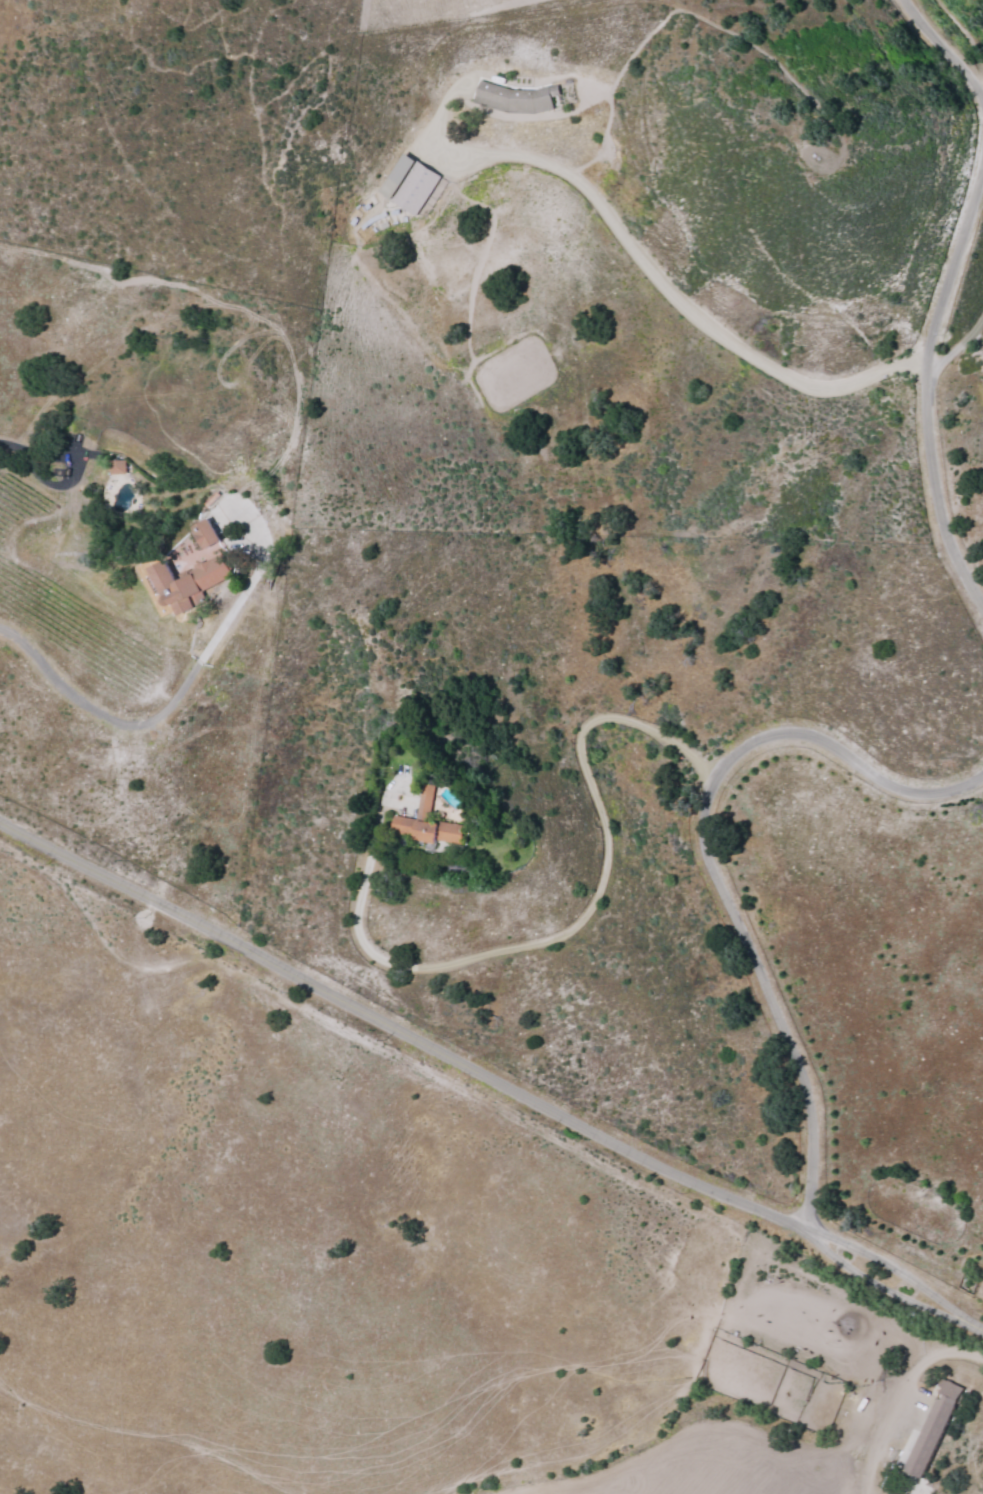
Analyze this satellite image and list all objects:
road: (781, 2)
road: (944, 49)
building: (518, 99)
building: (409, 183)
road: (922, 371)
building: (207, 533)
building: (194, 584)
building: (429, 824)
road: (712, 857)
road: (435, 961)
road: (491, 1076)
road: (911, 1337)
building: (934, 1429)
crop: (707, 1458)

